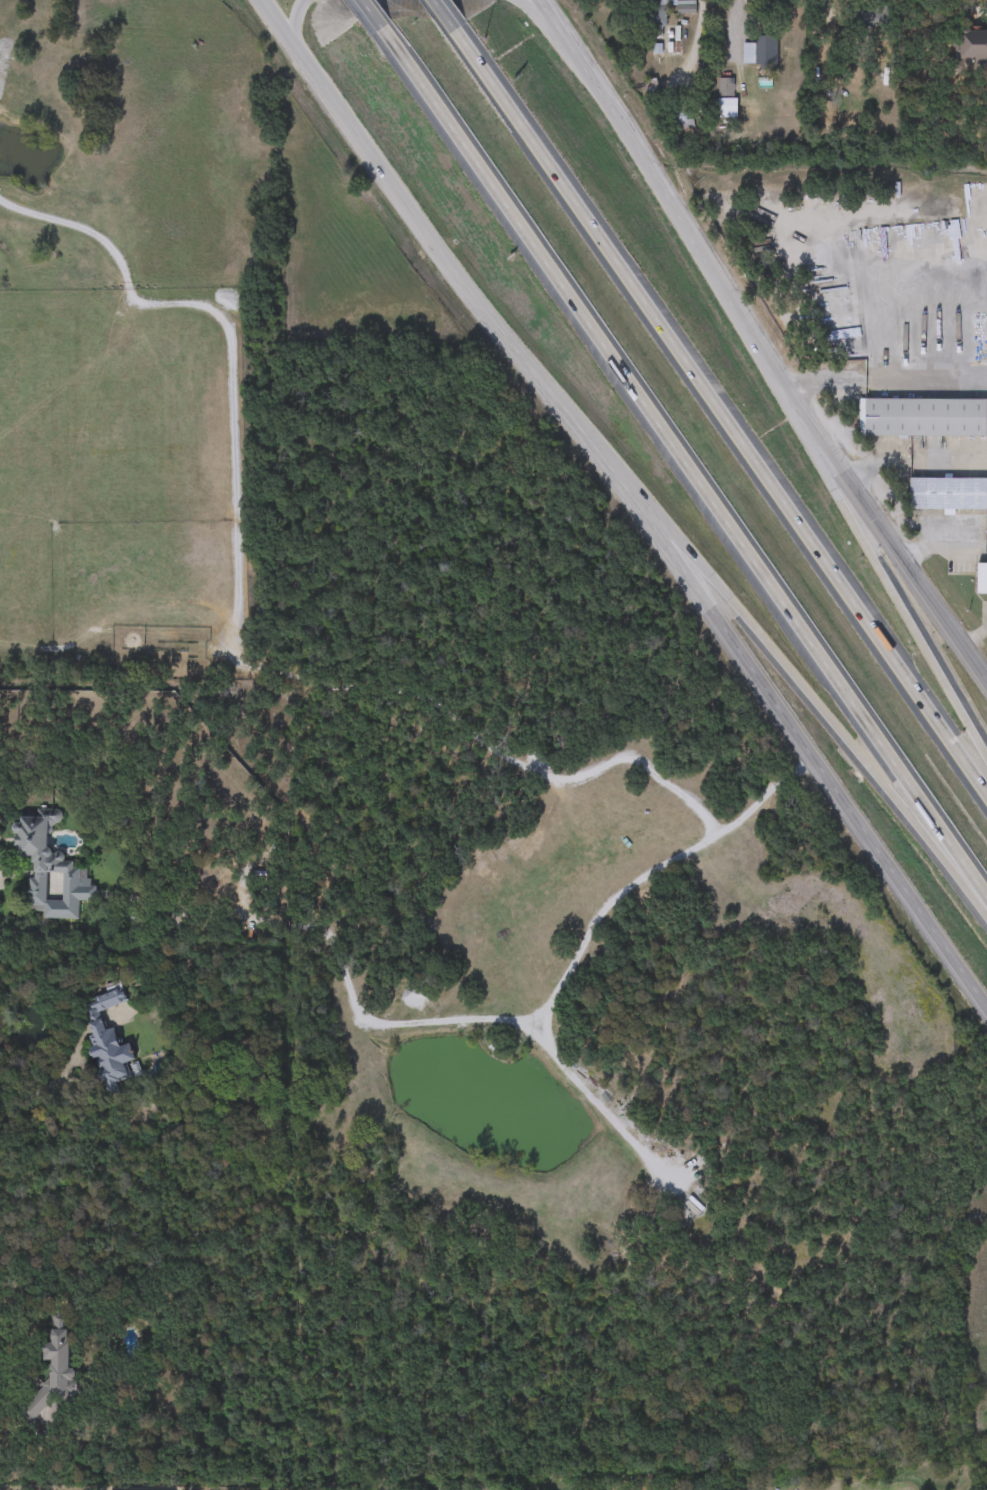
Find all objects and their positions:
road: (972, 7)
building: (657, 11)
road: (377, 12)
road: (451, 13)
road: (542, 14)
road: (736, 20)
road: (294, 23)
building: (760, 51)
building: (681, 113)
road: (756, 344)
road: (886, 381)
road: (722, 410)
building: (924, 416)
road: (687, 459)
road: (914, 463)
building: (948, 493)
road: (630, 499)
road: (883, 577)
building: (982, 578)
road: (776, 652)
building: (42, 855)
road: (2, 868)
building: (105, 1038)
road: (49, 1089)
road: (5, 1298)
building: (49, 1371)

